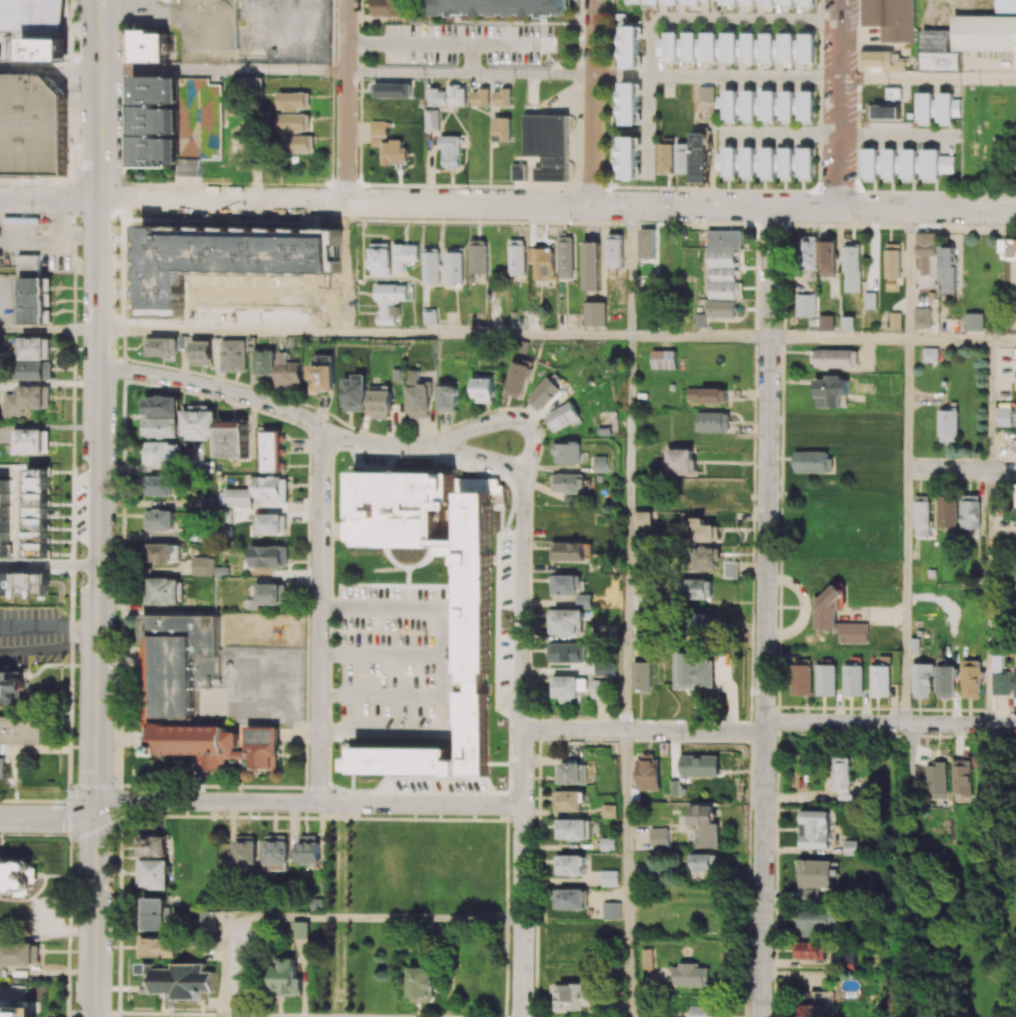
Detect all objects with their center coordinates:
building: (167, 1)
building: (632, 1)
building: (724, 1)
building: (651, 2)
building: (670, 2)
building: (691, 2)
building: (749, 2)
building: (767, 2)
building: (785, 2)
building: (807, 2)
building: (1005, 6)
building: (390, 8)
building: (497, 8)
road: (102, 10)
street lamp: (857, 11)
road: (718, 17)
building: (890, 19)
building: (210, 24)
building: (33, 29)
street lamp: (123, 30)
building: (985, 33)
road: (445, 42)
building: (729, 45)
building: (748, 45)
building: (150, 46)
building: (630, 46)
building: (668, 46)
building: (689, 46)
building: (786, 46)
building: (709, 47)
building: (767, 48)
building: (806, 48)
building: (939, 51)
road: (471, 58)
building: (884, 61)
road: (51, 68)
road: (224, 70)
road: (470, 72)
road: (716, 76)
street lamp: (330, 78)
road: (928, 78)
street lamp: (583, 82)
building: (248, 85)
street lamp: (857, 86)
building: (395, 90)
street lamp: (78, 91)
building: (893, 93)
building: (706, 94)
street lamp: (677, 95)
building: (448, 96)
building: (480, 98)
building: (502, 98)
building: (295, 101)
road: (346, 101)
road: (592, 103)
building: (629, 103)
building: (728, 104)
road: (839, 104)
building: (748, 105)
building: (767, 105)
building: (806, 106)
building: (787, 107)
building: (925, 109)
building: (948, 109)
building: (887, 111)
building: (163, 120)
building: (432, 120)
building: (295, 122)
building: (32, 124)
road: (646, 125)
building: (502, 129)
road: (837, 133)
building: (303, 143)
building: (388, 144)
building: (547, 145)
building: (450, 151)
street lamp: (334, 154)
building: (699, 157)
street lamp: (121, 158)
building: (628, 158)
building: (665, 158)
building: (682, 158)
building: (729, 161)
building: (747, 163)
building: (767, 164)
building: (786, 164)
building: (806, 164)
building: (935, 164)
building: (870, 165)
building: (889, 165)
building: (908, 165)
building: (519, 171)
street lamp: (565, 187)
street lamp: (866, 193)
road: (49, 197)
road: (345, 203)
road: (803, 209)
street lamp: (148, 216)
street lamp: (483, 219)
street lamp: (641, 221)
street lamp: (79, 224)
street lamp: (978, 224)
road: (143, 234)
building: (725, 239)
building: (647, 244)
building: (1011, 250)
building: (615, 251)
building: (807, 253)
building: (927, 254)
building: (404, 256)
building: (516, 257)
building: (565, 257)
building: (380, 259)
building: (477, 259)
building: (827, 259)
building: (224, 260)
road: (131, 261)
building: (893, 263)
building: (27, 264)
building: (544, 264)
building: (591, 266)
building: (431, 267)
building: (455, 267)
building: (852, 268)
building: (948, 268)
road: (630, 271)
building: (723, 275)
road: (909, 275)
building: (37, 301)
building: (390, 302)
building: (805, 305)
building: (721, 309)
building: (594, 314)
building: (429, 316)
building: (922, 318)
building: (895, 321)
building: (974, 322)
building: (826, 323)
building: (847, 323)
road: (49, 327)
road: (364, 332)
road: (700, 337)
road: (839, 339)
road: (949, 340)
road: (1003, 341)
street lamp: (115, 343)
building: (165, 347)
building: (36, 348)
building: (206, 353)
building: (237, 355)
building: (930, 355)
building: (1015, 358)
building: (663, 359)
building: (834, 359)
building: (264, 365)
building: (289, 370)
building: (36, 371)
building: (323, 375)
building: (517, 380)
road: (215, 389)
building: (483, 390)
building: (830, 391)
building: (355, 393)
building: (544, 394)
building: (709, 395)
building: (419, 396)
building: (447, 398)
building: (27, 399)
street lamp: (218, 399)
building: (381, 404)
road: (907, 405)
building: (162, 406)
road: (989, 406)
road: (508, 417)
building: (561, 417)
building: (1004, 417)
building: (713, 422)
building: (199, 423)
street lamp: (297, 423)
building: (948, 426)
building: (161, 427)
building: (232, 438)
building: (32, 441)
road: (428, 447)
building: (272, 452)
building: (160, 453)
building: (567, 453)
building: (679, 461)
building: (813, 462)
building: (602, 464)
road: (960, 470)
building: (567, 483)
building: (158, 485)
building: (271, 489)
road: (511, 491)
building: (699, 495)
building: (238, 497)
road: (18, 508)
building: (947, 512)
building: (970, 512)
building: (922, 516)
building: (4, 517)
road: (97, 518)
building: (158, 519)
building: (642, 520)
building: (271, 524)
building: (703, 531)
road: (627, 533)
building: (568, 551)
building: (164, 553)
building: (269, 556)
building: (704, 558)
road: (48, 565)
building: (202, 566)
building: (24, 584)
building: (565, 585)
building: (694, 589)
building: (163, 591)
building: (271, 594)
road: (123, 595)
road: (905, 597)
road: (988, 598)
building: (584, 601)
road: (71, 607)
building: (476, 609)
road: (767, 613)
road: (321, 616)
building: (825, 616)
building: (568, 622)
building: (698, 625)
road: (48, 627)
building: (914, 645)
road: (48, 651)
building: (568, 652)
road: (378, 653)
street lamp: (75, 655)
building: (180, 660)
road: (435, 669)
building: (606, 669)
building: (693, 672)
building: (642, 677)
building: (802, 677)
building: (1000, 677)
building: (971, 679)
building: (826, 680)
building: (853, 680)
building: (880, 681)
building: (922, 681)
building: (945, 682)
building: (1014, 684)
building: (12, 687)
building: (570, 688)
building: (600, 689)
road: (378, 694)
road: (769, 726)
building: (19, 736)
building: (216, 744)
road: (522, 745)
building: (700, 765)
building: (649, 773)
building: (572, 774)
building: (841, 774)
building: (961, 777)
road: (295, 786)
building: (568, 801)
road: (309, 804)
traffic signals: (97, 810)
building: (609, 811)
road: (49, 820)
road: (93, 825)
building: (705, 826)
building: (573, 829)
building: (815, 829)
building: (659, 839)
building: (608, 844)
building: (152, 846)
building: (851, 848)
building: (245, 849)
building: (276, 849)
building: (308, 850)
building: (704, 863)
building: (569, 865)
building: (152, 874)
road: (626, 874)
building: (18, 876)
road: (94, 876)
building: (610, 878)
building: (818, 878)
building: (569, 899)
road: (339, 902)
building: (316, 904)
building: (611, 910)
building: (155, 914)
park: (967, 914)
road: (321, 916)
building: (206, 921)
building: (821, 922)
building: (300, 935)
building: (160, 947)
building: (812, 950)
building: (18, 955)
building: (650, 960)
building: (846, 961)
building: (694, 975)
building: (286, 978)
building: (177, 981)
building: (422, 984)
road: (16, 996)
building: (572, 997)
road: (1014, 1000)
building: (815, 1005)
building: (618, 1008)
building: (16, 1010)
building: (705, 1011)
parking lot: (15, 1014)
road: (230, 1014)
road: (960, 1015)

